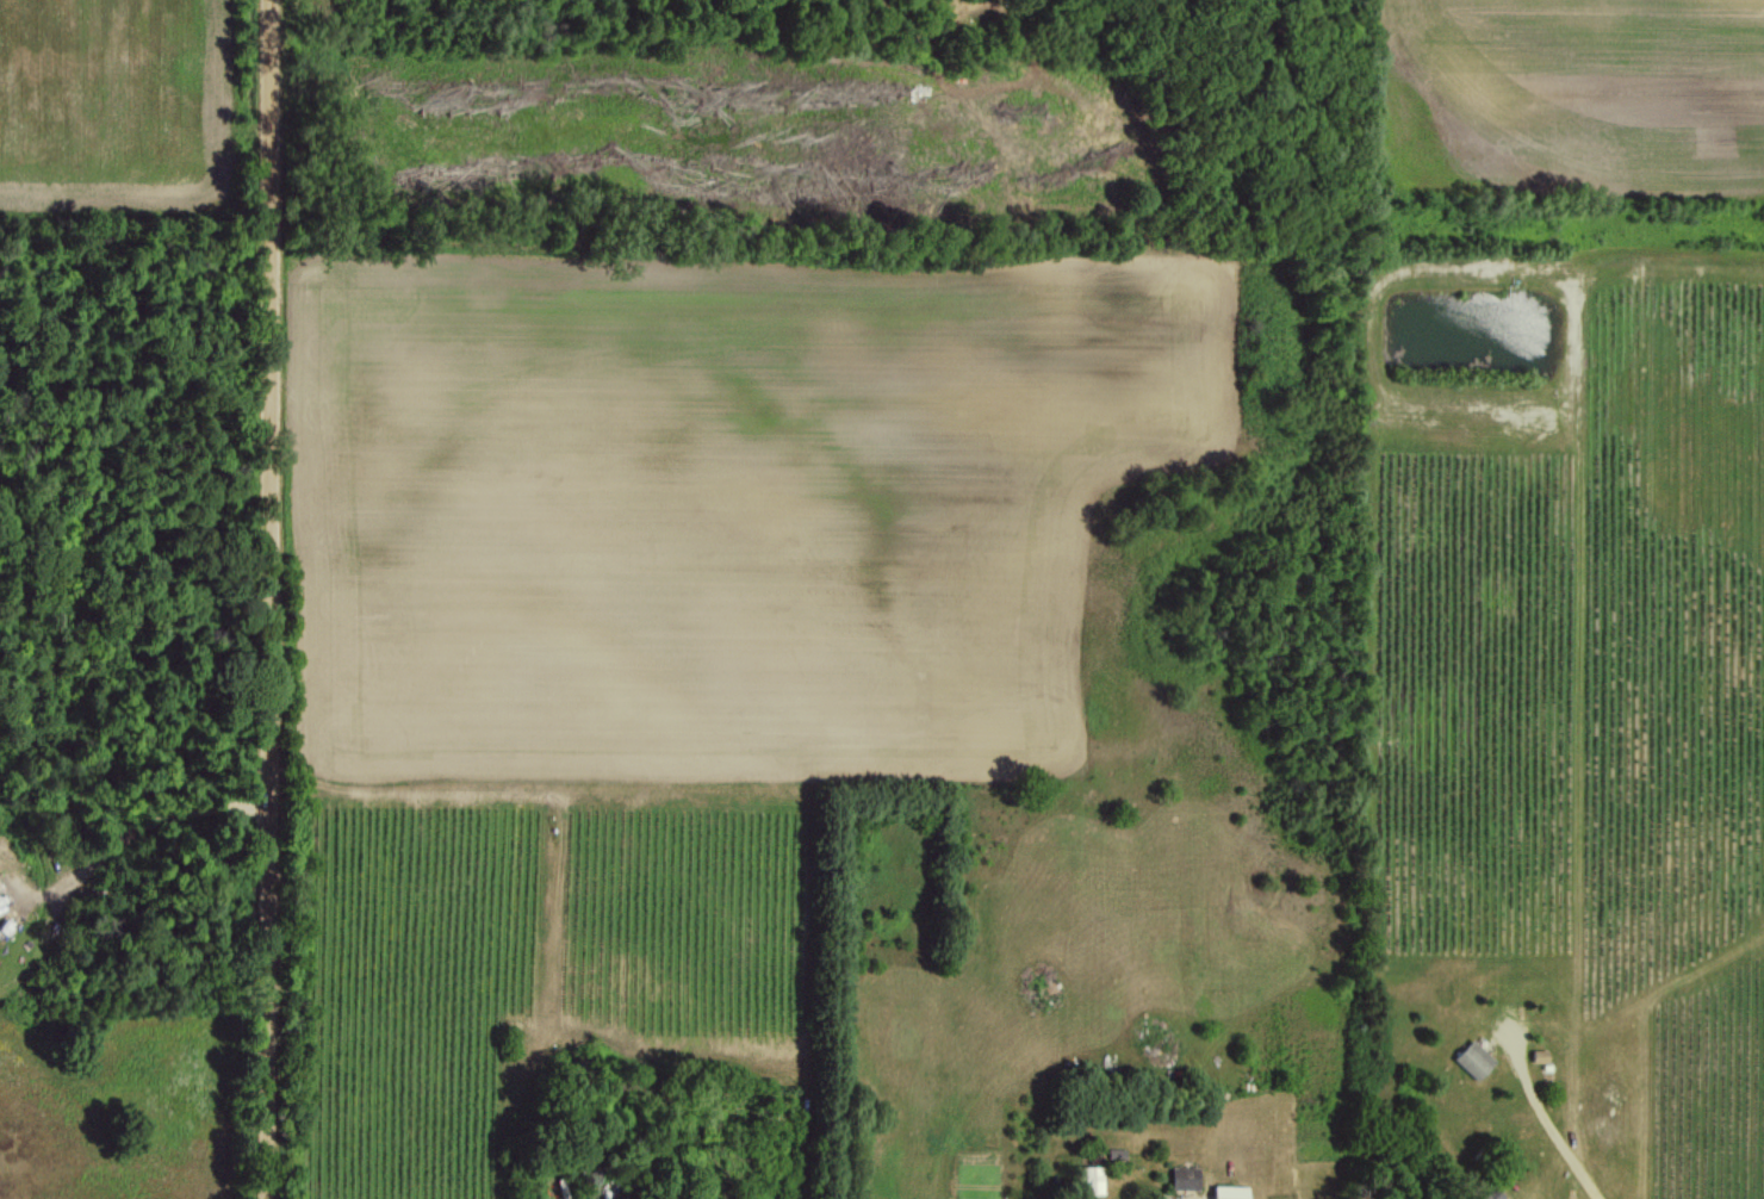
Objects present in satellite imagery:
road: (268, 599)
building: (1474, 1060)
road: (1553, 1120)
building: (1117, 1153)
building: (1185, 1178)
building: (1092, 1180)
building: (1230, 1192)
building: (1491, 1194)

